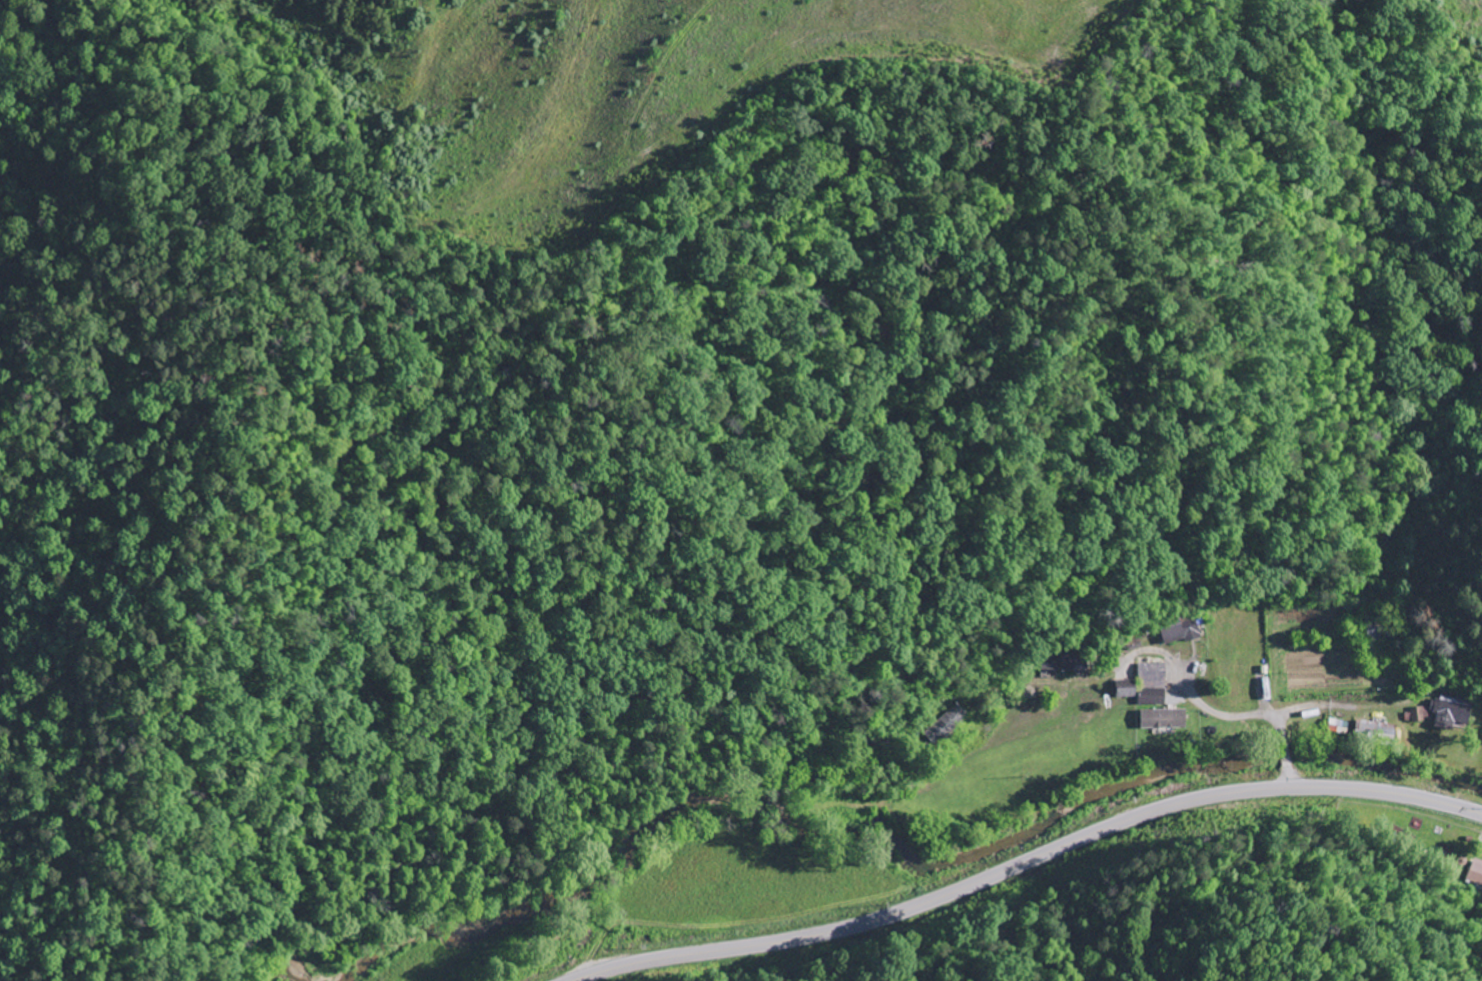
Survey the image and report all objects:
building: (1147, 686)
road: (1219, 712)
building: (1453, 716)
building: (1166, 720)
building: (1378, 731)
road: (1026, 862)
building: (1476, 874)

